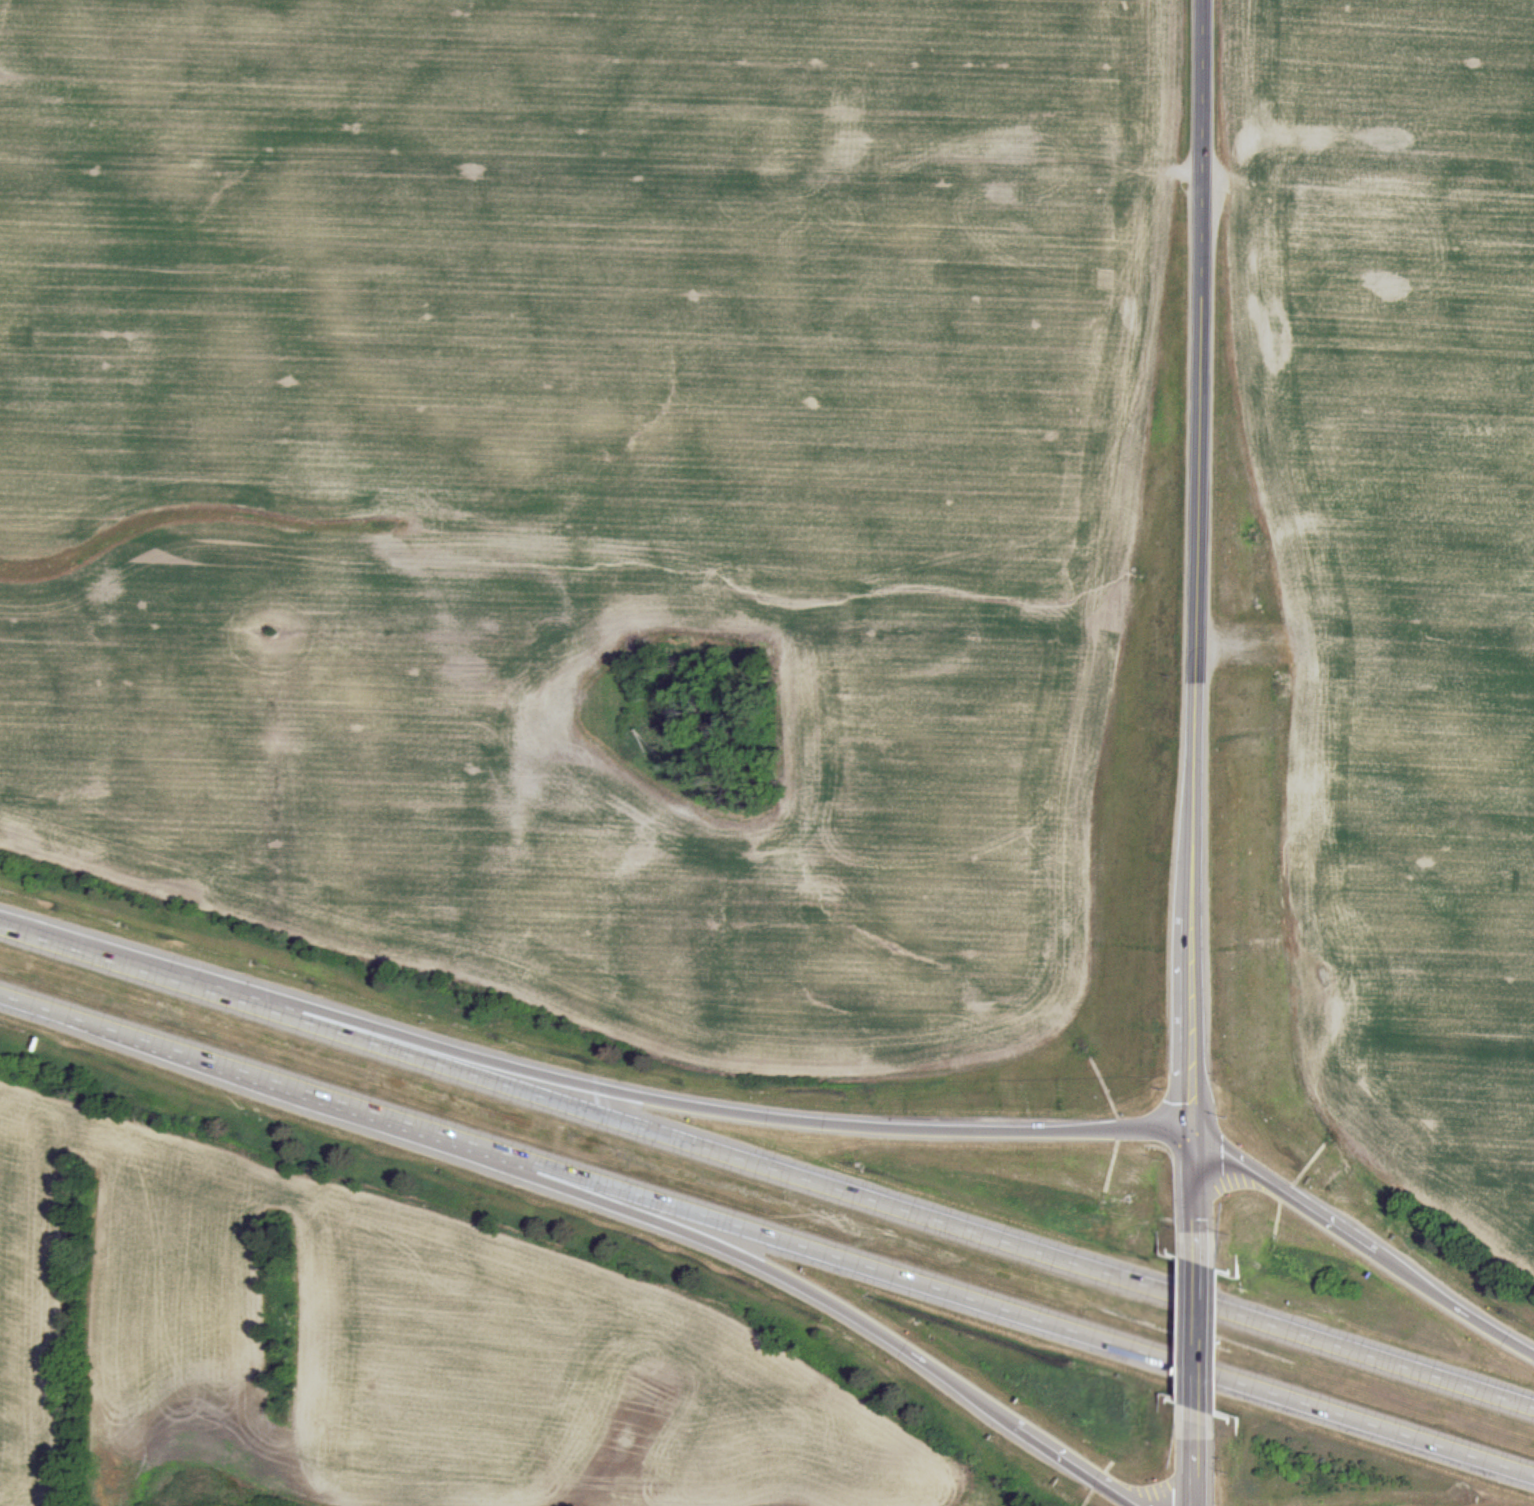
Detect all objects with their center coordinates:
road: (1198, 452)
crop: (624, 505)
crop: (1371, 595)
road: (1193, 1020)
road: (618, 1090)
road: (766, 1166)
road: (561, 1186)
road: (1194, 1191)
road: (1290, 1193)
road: (767, 1234)
road: (1457, 1308)
road: (1194, 1335)
road: (1193, 1464)
road: (1076, 1466)

